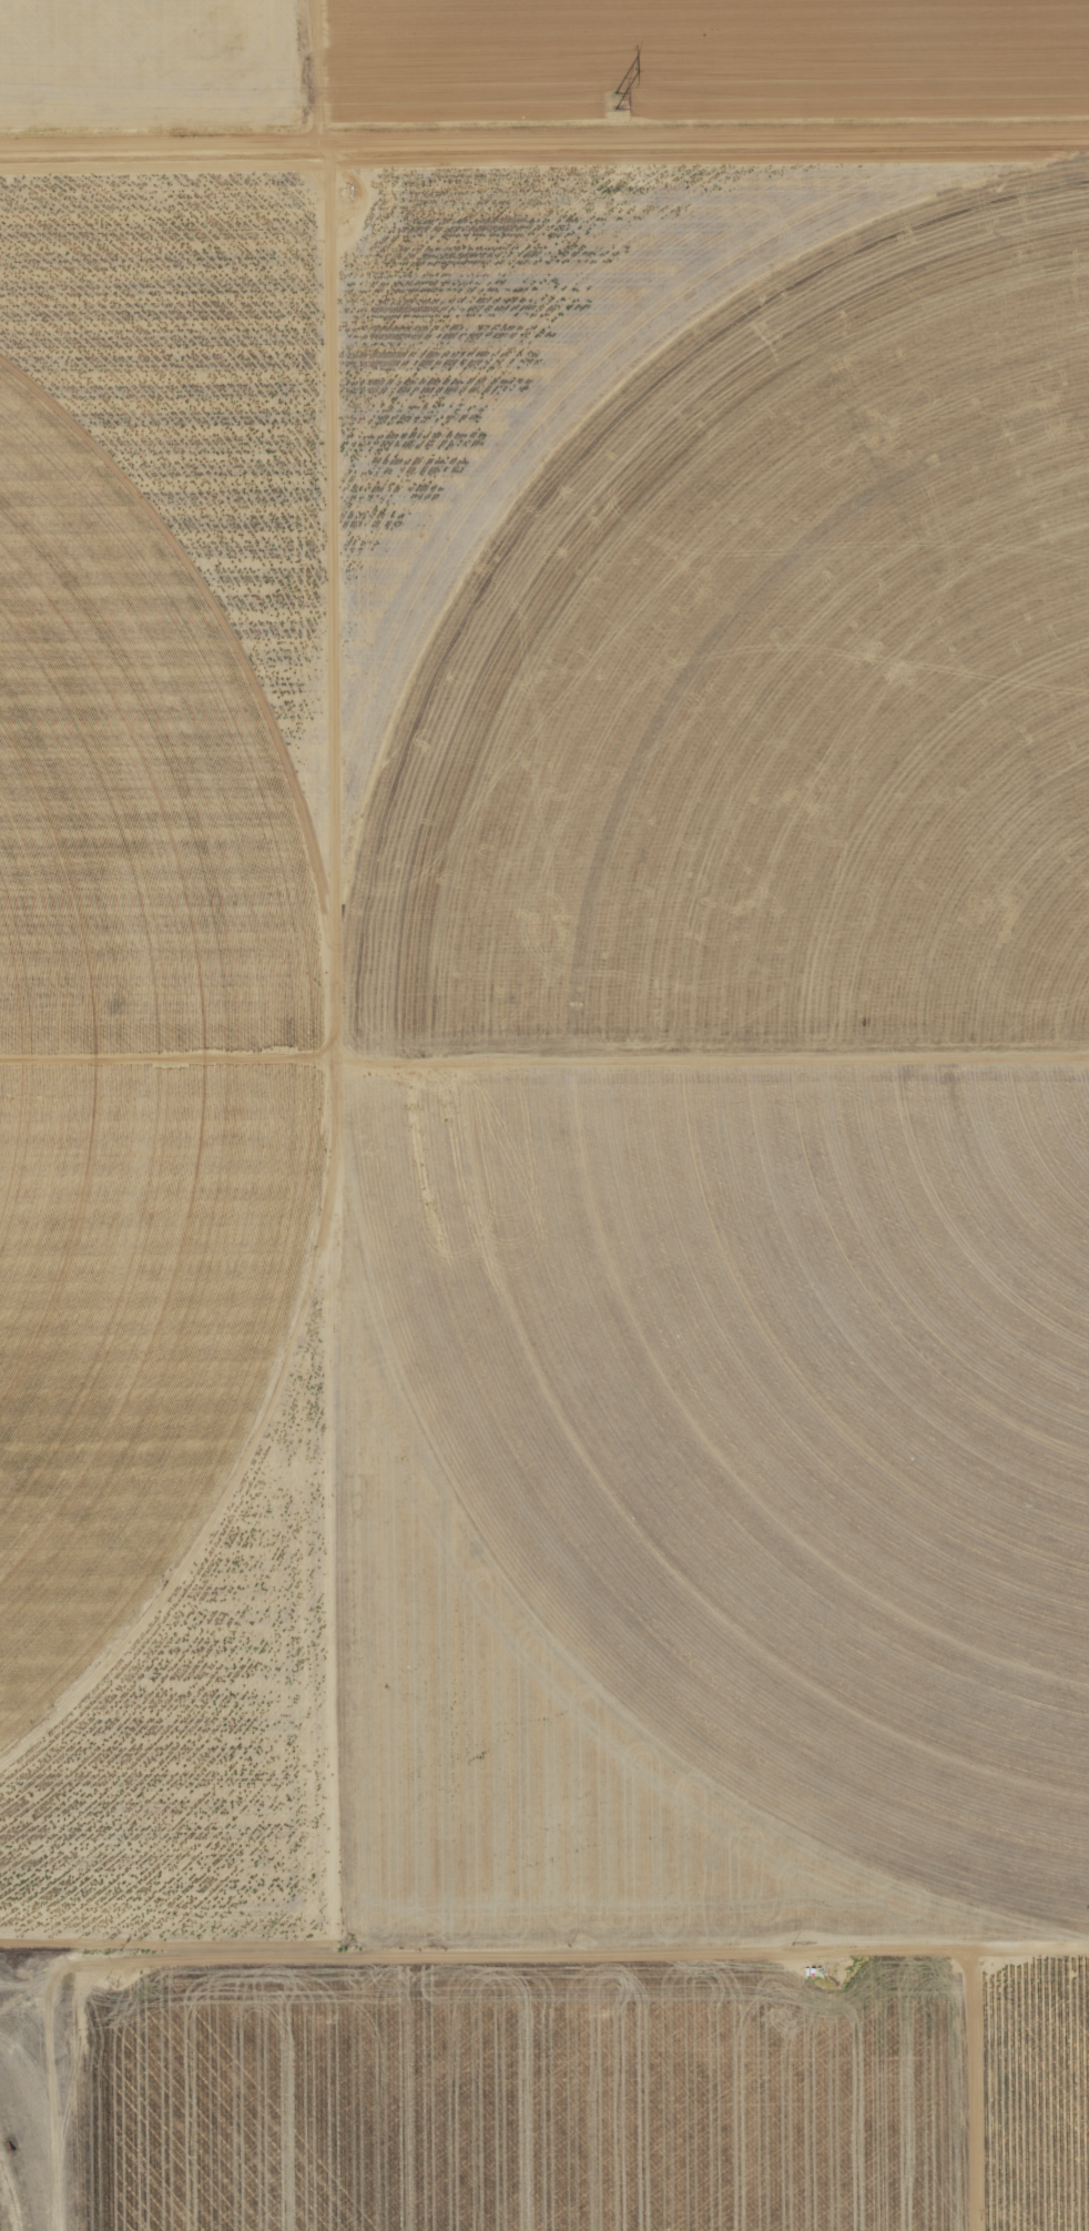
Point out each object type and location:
road: (319, 71)
power tower: (611, 99)
road: (544, 140)

